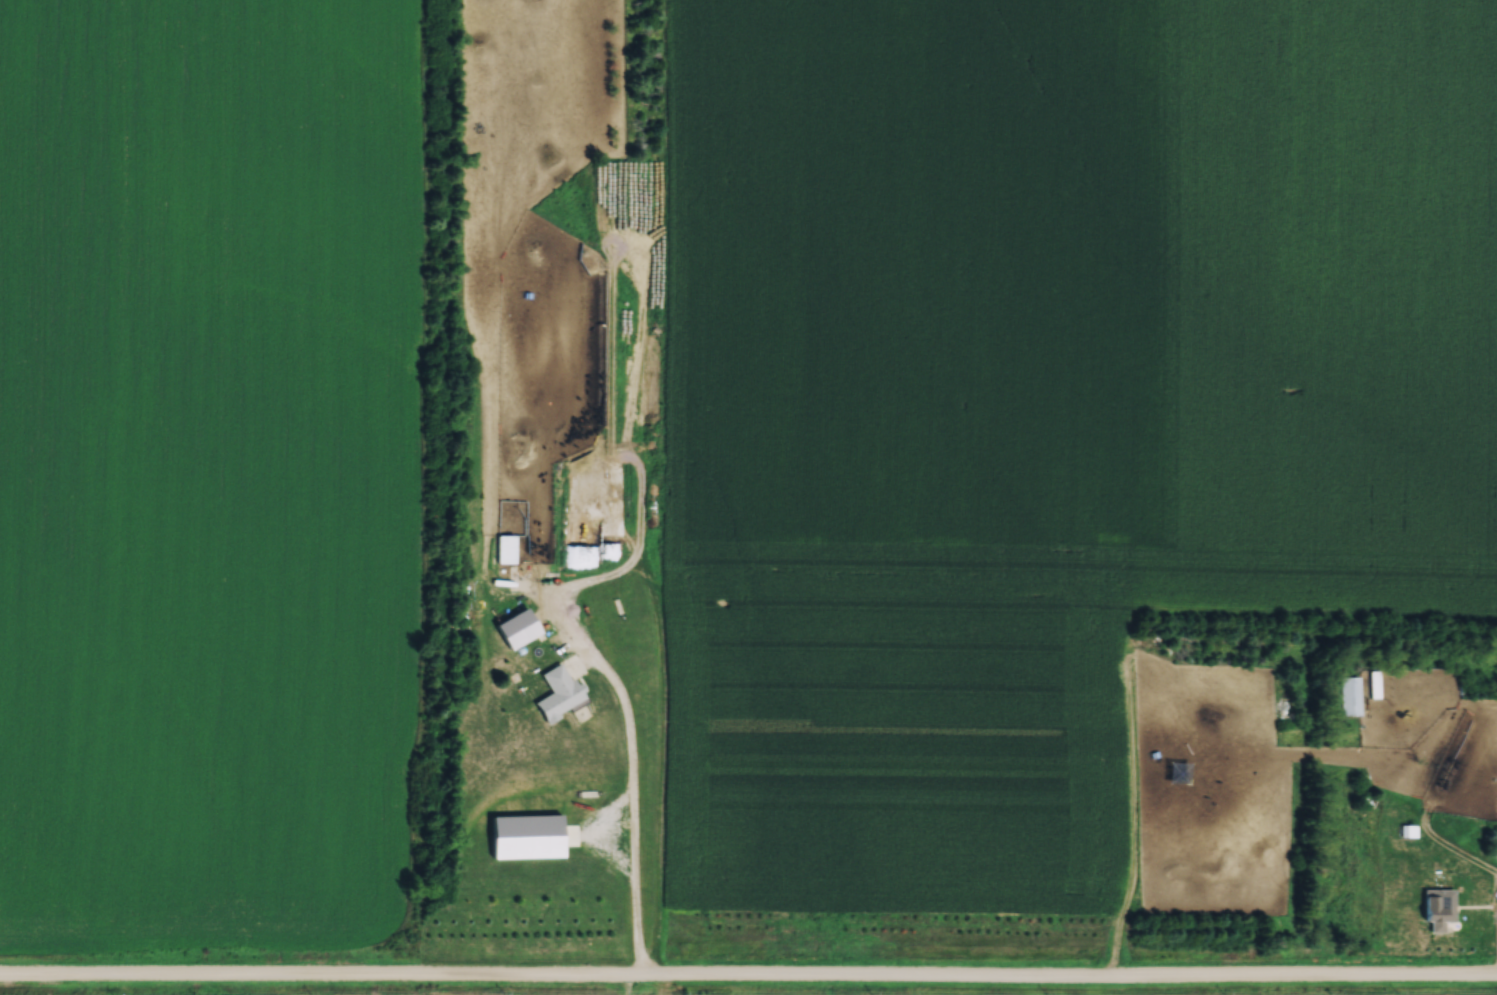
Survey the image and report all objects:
building: (503, 548)
building: (519, 625)
building: (557, 694)
building: (1358, 695)
building: (1443, 781)
road: (635, 844)
building: (1437, 907)
road: (748, 979)
road: (633, 987)

